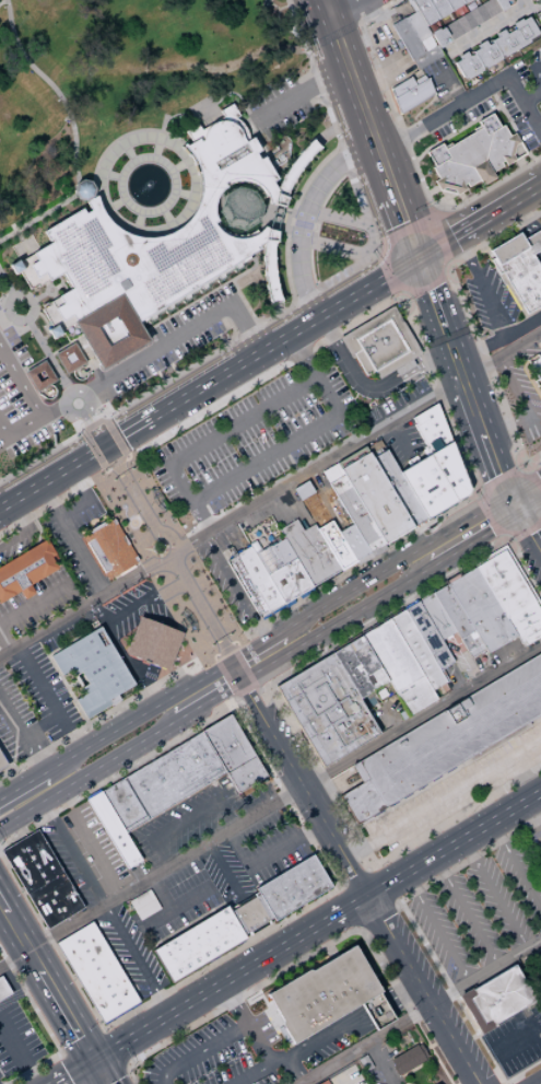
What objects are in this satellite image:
building: (529, 0)
building: (538, 0)
building: (464, 1)
road: (474, 3)
building: (452, 4)
building: (501, 4)
road: (325, 8)
road: (341, 8)
building: (438, 8)
building: (490, 8)
road: (534, 8)
road: (462, 10)
road: (354, 11)
building: (424, 11)
building: (478, 15)
road: (449, 18)
building: (539, 18)
building: (464, 23)
road: (437, 25)
building: (416, 26)
building: (452, 30)
road: (491, 30)
building: (524, 32)
road: (329, 33)
building: (439, 37)
building: (407, 39)
building: (426, 44)
building: (504, 44)
building: (485, 55)
park: (150, 57)
building: (426, 58)
park: (104, 63)
building: (467, 66)
road: (534, 71)
road: (355, 88)
road: (57, 93)
road: (301, 93)
building: (410, 93)
road: (472, 95)
road: (531, 95)
parking lot: (497, 102)
road: (336, 119)
road: (509, 124)
road: (538, 125)
road: (454, 131)
road: (407, 148)
building: (473, 156)
building: (294, 170)
road: (114, 175)
fountain: (145, 185)
road: (540, 188)
road: (57, 207)
building: (237, 207)
road: (247, 210)
road: (400, 210)
road: (277, 211)
road: (435, 212)
road: (498, 213)
road: (303, 218)
road: (520, 220)
parking lot: (537, 226)
road: (315, 231)
road: (402, 232)
road: (440, 242)
road: (533, 243)
road: (437, 249)
building: (149, 250)
road: (540, 253)
traffic signals: (420, 261)
building: (269, 266)
building: (520, 267)
road: (248, 270)
road: (383, 271)
road: (482, 284)
road: (426, 287)
road: (209, 293)
road: (432, 294)
road: (301, 298)
road: (462, 303)
road: (341, 328)
road: (183, 334)
road: (34, 335)
road: (498, 336)
road: (285, 341)
building: (381, 342)
road: (341, 355)
building: (67, 358)
road: (455, 360)
building: (362, 362)
road: (404, 366)
building: (403, 368)
road: (198, 369)
road: (408, 374)
building: (38, 375)
building: (539, 376)
road: (511, 386)
road: (85, 398)
road: (33, 408)
building: (425, 413)
road: (52, 415)
road: (474, 415)
road: (530, 424)
building: (431, 426)
road: (504, 427)
road: (348, 428)
road: (224, 431)
road: (94, 432)
road: (118, 435)
road: (127, 435)
road: (399, 438)
building: (437, 439)
parking lot: (252, 440)
road: (293, 442)
road: (353, 442)
building: (443, 450)
road: (507, 450)
traffic signals: (105, 451)
road: (81, 457)
building: (449, 465)
road: (109, 467)
road: (493, 467)
traffic signals: (495, 473)
road: (497, 477)
traffic signals: (539, 477)
road: (52, 481)
building: (433, 481)
road: (536, 481)
building: (459, 485)
road: (524, 485)
building: (399, 486)
building: (302, 490)
building: (419, 490)
road: (326, 496)
building: (376, 496)
road: (511, 504)
road: (47, 505)
road: (529, 505)
road: (439, 509)
road: (85, 514)
road: (144, 515)
road: (486, 517)
road: (254, 527)
road: (25, 531)
traffic signals: (487, 531)
road: (527, 531)
road: (528, 534)
traffic signals: (529, 536)
road: (473, 538)
building: (352, 541)
road: (73, 543)
building: (109, 548)
building: (320, 549)
building: (338, 550)
road: (519, 551)
building: (303, 552)
park: (168, 562)
road: (393, 563)
building: (25, 569)
building: (283, 569)
building: (497, 571)
road: (343, 574)
building: (263, 575)
building: (255, 580)
road: (528, 580)
building: (246, 585)
road: (235, 588)
building: (509, 592)
road: (33, 599)
building: (491, 603)
building: (516, 603)
road: (398, 606)
road: (133, 608)
building: (482, 609)
road: (84, 610)
building: (440, 614)
building: (471, 614)
building: (524, 616)
building: (433, 617)
building: (458, 619)
road: (205, 622)
road: (334, 622)
building: (423, 627)
building: (529, 631)
road: (257, 636)
road: (7, 643)
building: (153, 643)
road: (233, 648)
road: (255, 648)
building: (417, 650)
road: (223, 653)
road: (319, 657)
road: (213, 658)
building: (366, 662)
road: (242, 666)
building: (398, 666)
road: (201, 669)
building: (93, 671)
building: (352, 671)
road: (234, 672)
road: (224, 676)
road: (247, 687)
road: (235, 696)
road: (207, 700)
road: (50, 702)
building: (326, 709)
road: (421, 713)
road: (248, 719)
road: (133, 720)
road: (91, 724)
building: (445, 738)
road: (20, 742)
road: (107, 759)
building: (2, 762)
road: (313, 762)
building: (184, 772)
road: (522, 778)
road: (35, 780)
road: (104, 782)
road: (35, 791)
road: (15, 792)
road: (443, 799)
road: (287, 802)
road: (20, 811)
road: (459, 814)
road: (533, 816)
parking lot: (193, 818)
road: (184, 819)
building: (113, 830)
road: (286, 844)
road: (455, 846)
parking lot: (268, 847)
parking lot: (94, 848)
parking lot: (69, 861)
road: (516, 866)
road: (222, 867)
road: (377, 870)
parking lot: (226, 875)
road: (151, 876)
road: (354, 876)
building: (40, 878)
road: (360, 881)
road: (387, 886)
building: (292, 887)
road: (342, 888)
road: (165, 889)
road: (495, 895)
parking lot: (173, 902)
road: (2, 904)
road: (177, 904)
road: (352, 906)
parking lot: (481, 906)
road: (106, 908)
road: (2, 910)
road: (378, 911)
road: (466, 912)
road: (343, 913)
building: (249, 914)
road: (358, 926)
road: (437, 931)
road: (417, 937)
building: (79, 943)
building: (197, 943)
parking lot: (129, 951)
road: (537, 952)
road: (310, 955)
building: (89, 959)
building: (93, 967)
road: (487, 974)
building: (98, 977)
building: (105, 984)
road: (49, 986)
building: (3, 989)
road: (22, 990)
road: (401, 991)
building: (321, 994)
road: (205, 995)
building: (494, 999)
building: (114, 1001)
road: (375, 1006)
building: (377, 1011)
road: (131, 1012)
road: (247, 1025)
road: (45, 1027)
road: (325, 1035)
parking lot: (516, 1038)
road: (518, 1038)
road: (81, 1041)
road: (367, 1045)
road: (115, 1047)
road: (200, 1052)
parking lot: (216, 1054)
road: (17, 1056)
building: (409, 1058)
traffic signals: (94, 1063)
road: (378, 1064)
road: (67, 1069)
road: (261, 1071)
road: (292, 1071)
road: (77, 1073)
road: (101, 1073)
road: (117, 1077)
road: (342, 1081)
building: (324, 1082)
building: (436, 1083)
road: (503, 1083)

